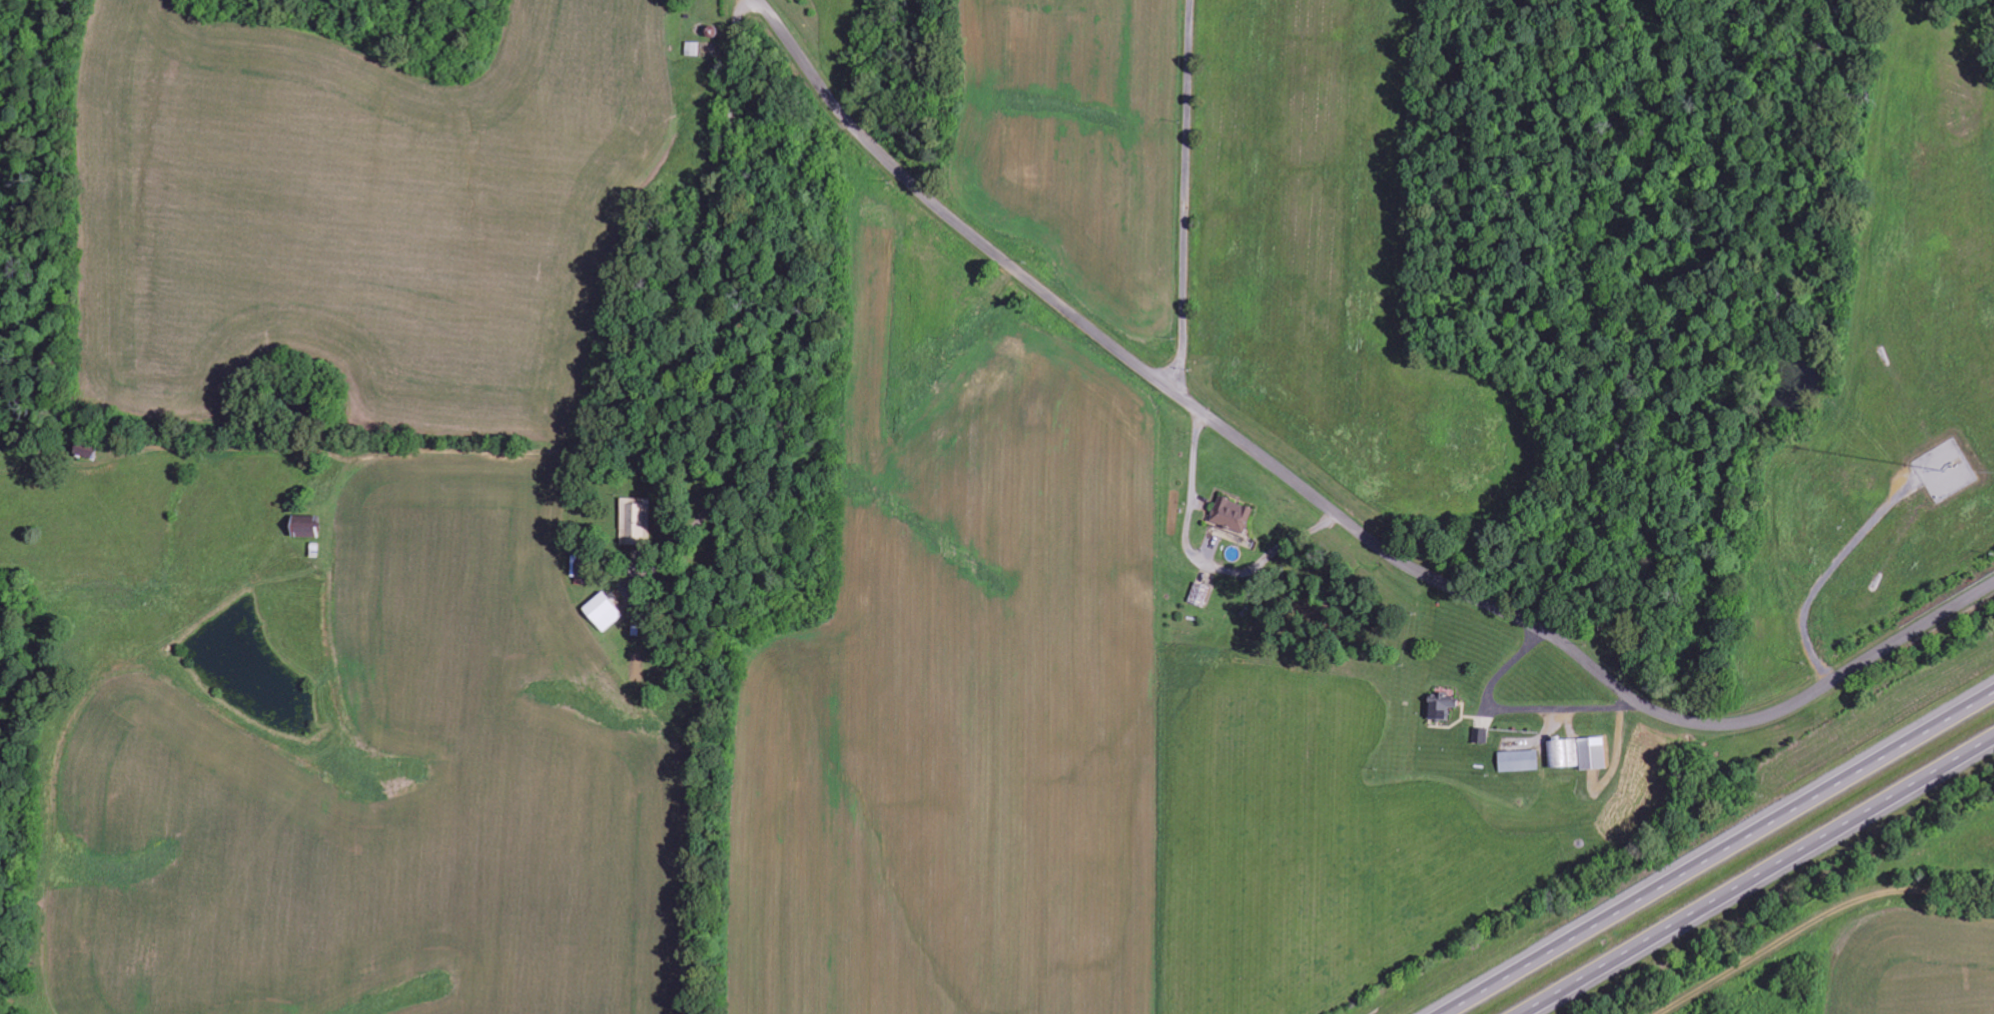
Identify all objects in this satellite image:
building: (692, 48)
road: (1187, 198)
road: (728, 239)
building: (81, 450)
road: (1326, 506)
building: (1231, 514)
building: (636, 522)
building: (304, 525)
building: (603, 612)
building: (1441, 705)
building: (1577, 752)
building: (1518, 760)
road: (1714, 850)
road: (1760, 877)
road: (1810, 917)

